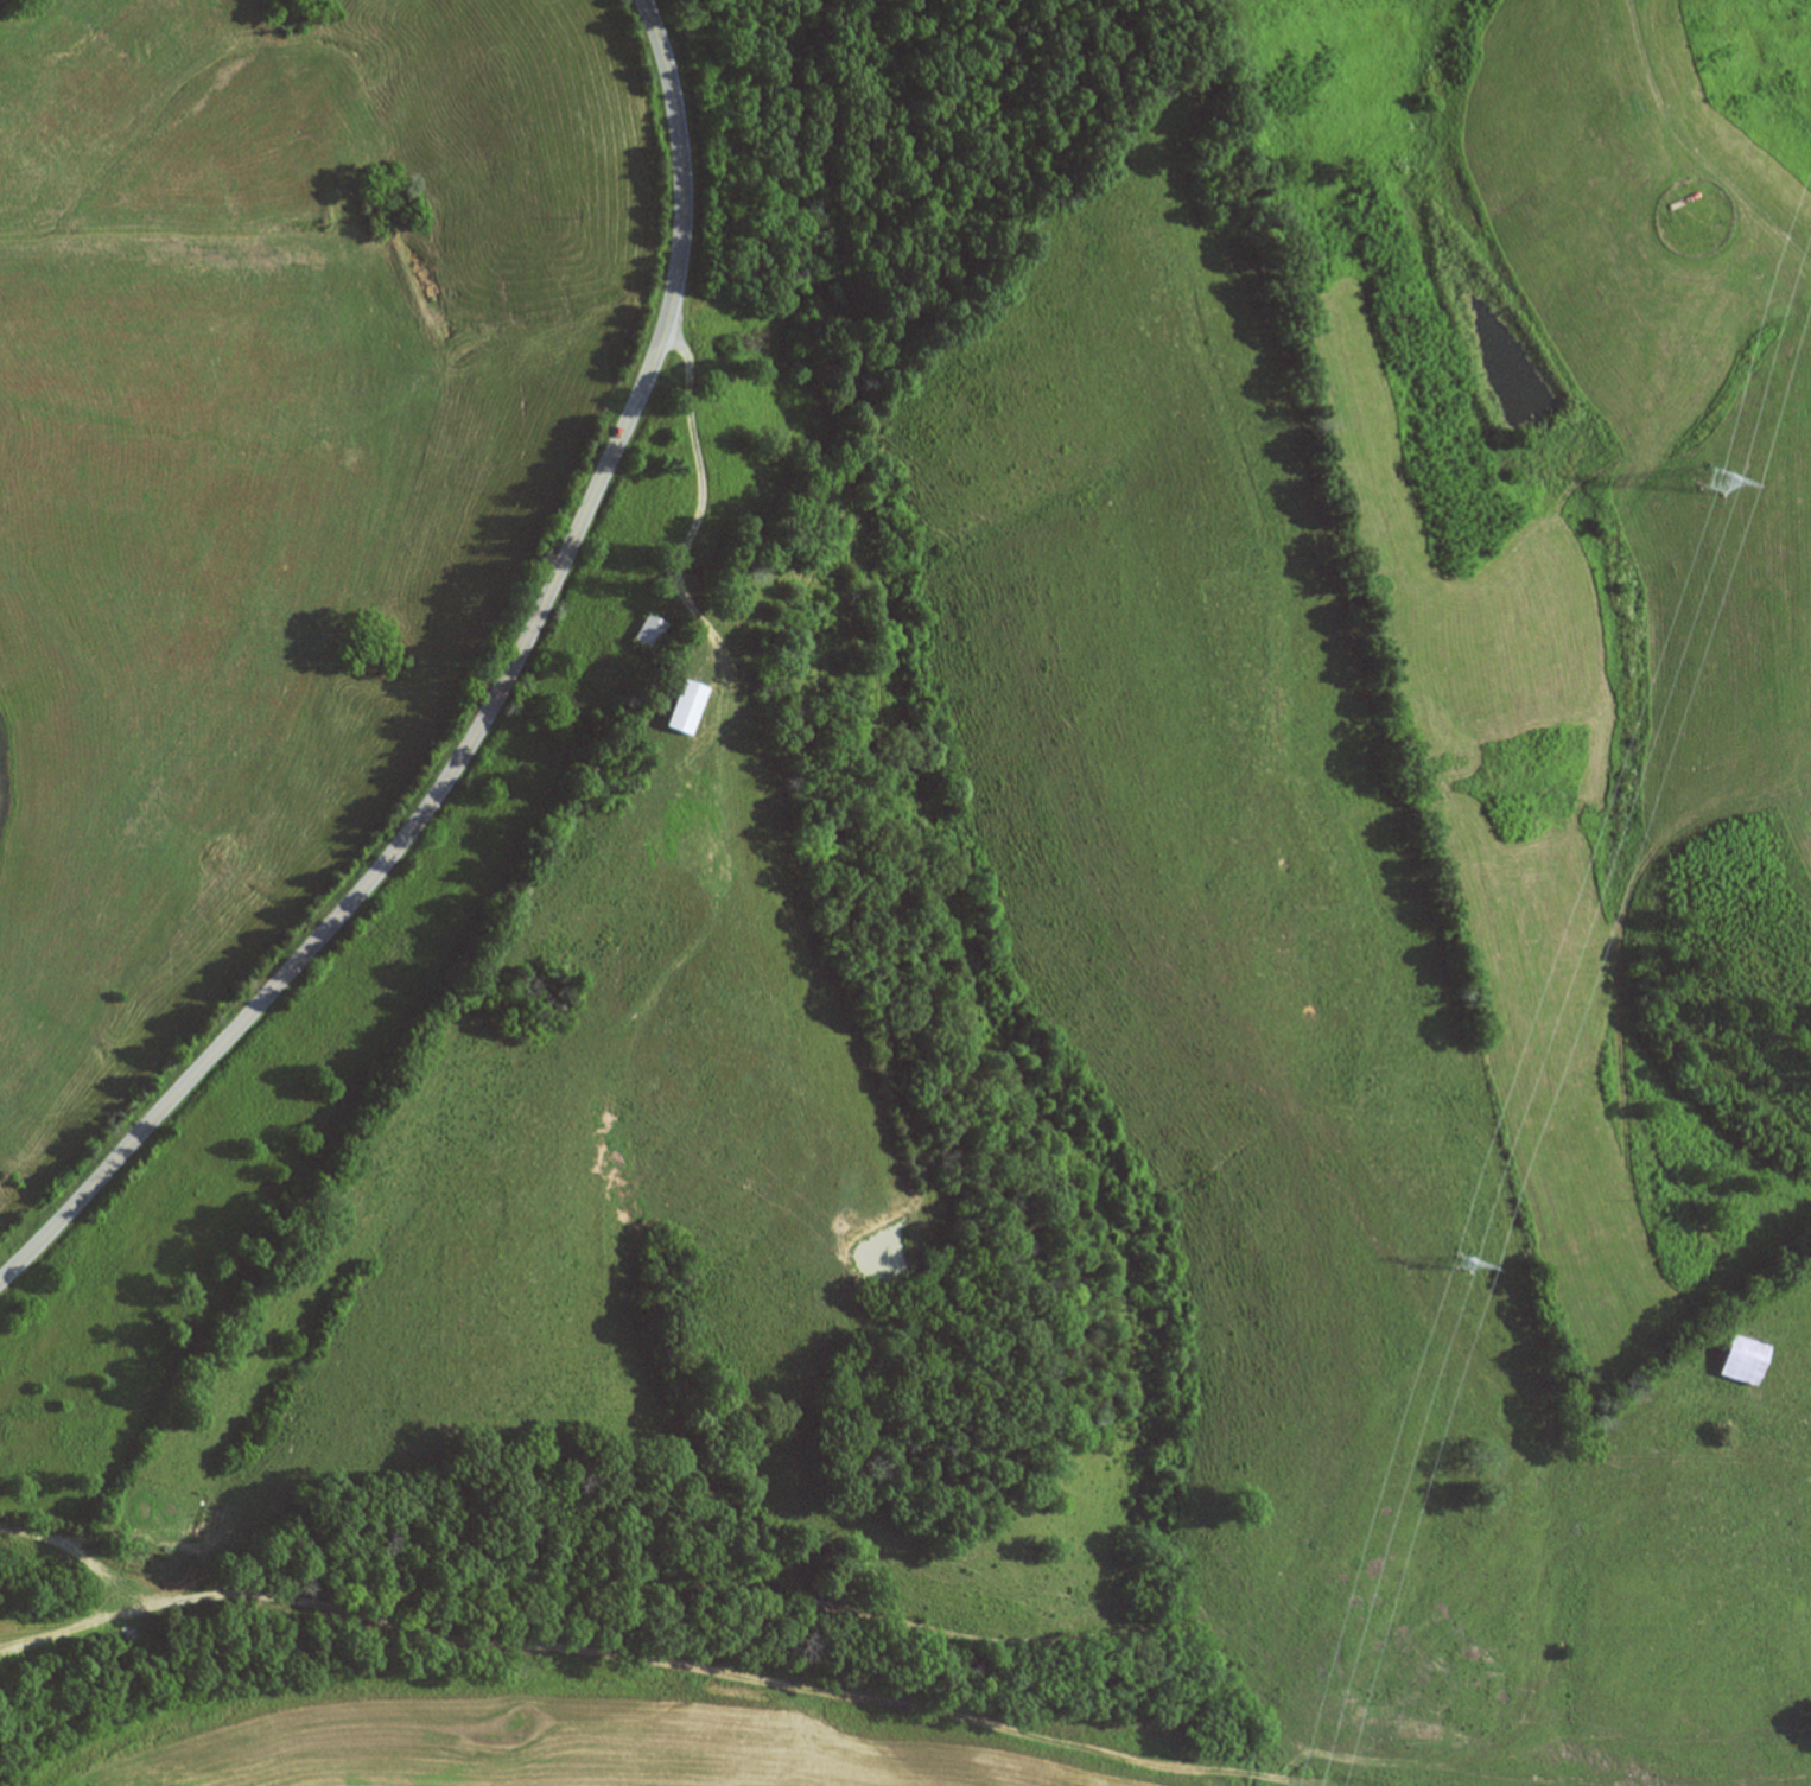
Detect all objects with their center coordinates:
road: (38, 42)
road: (680, 163)
road: (700, 460)
power tower: (1722, 478)
building: (653, 633)
building: (688, 707)
road: (396, 848)
power tower: (1470, 1260)
building: (1748, 1360)
road: (508, 1538)

